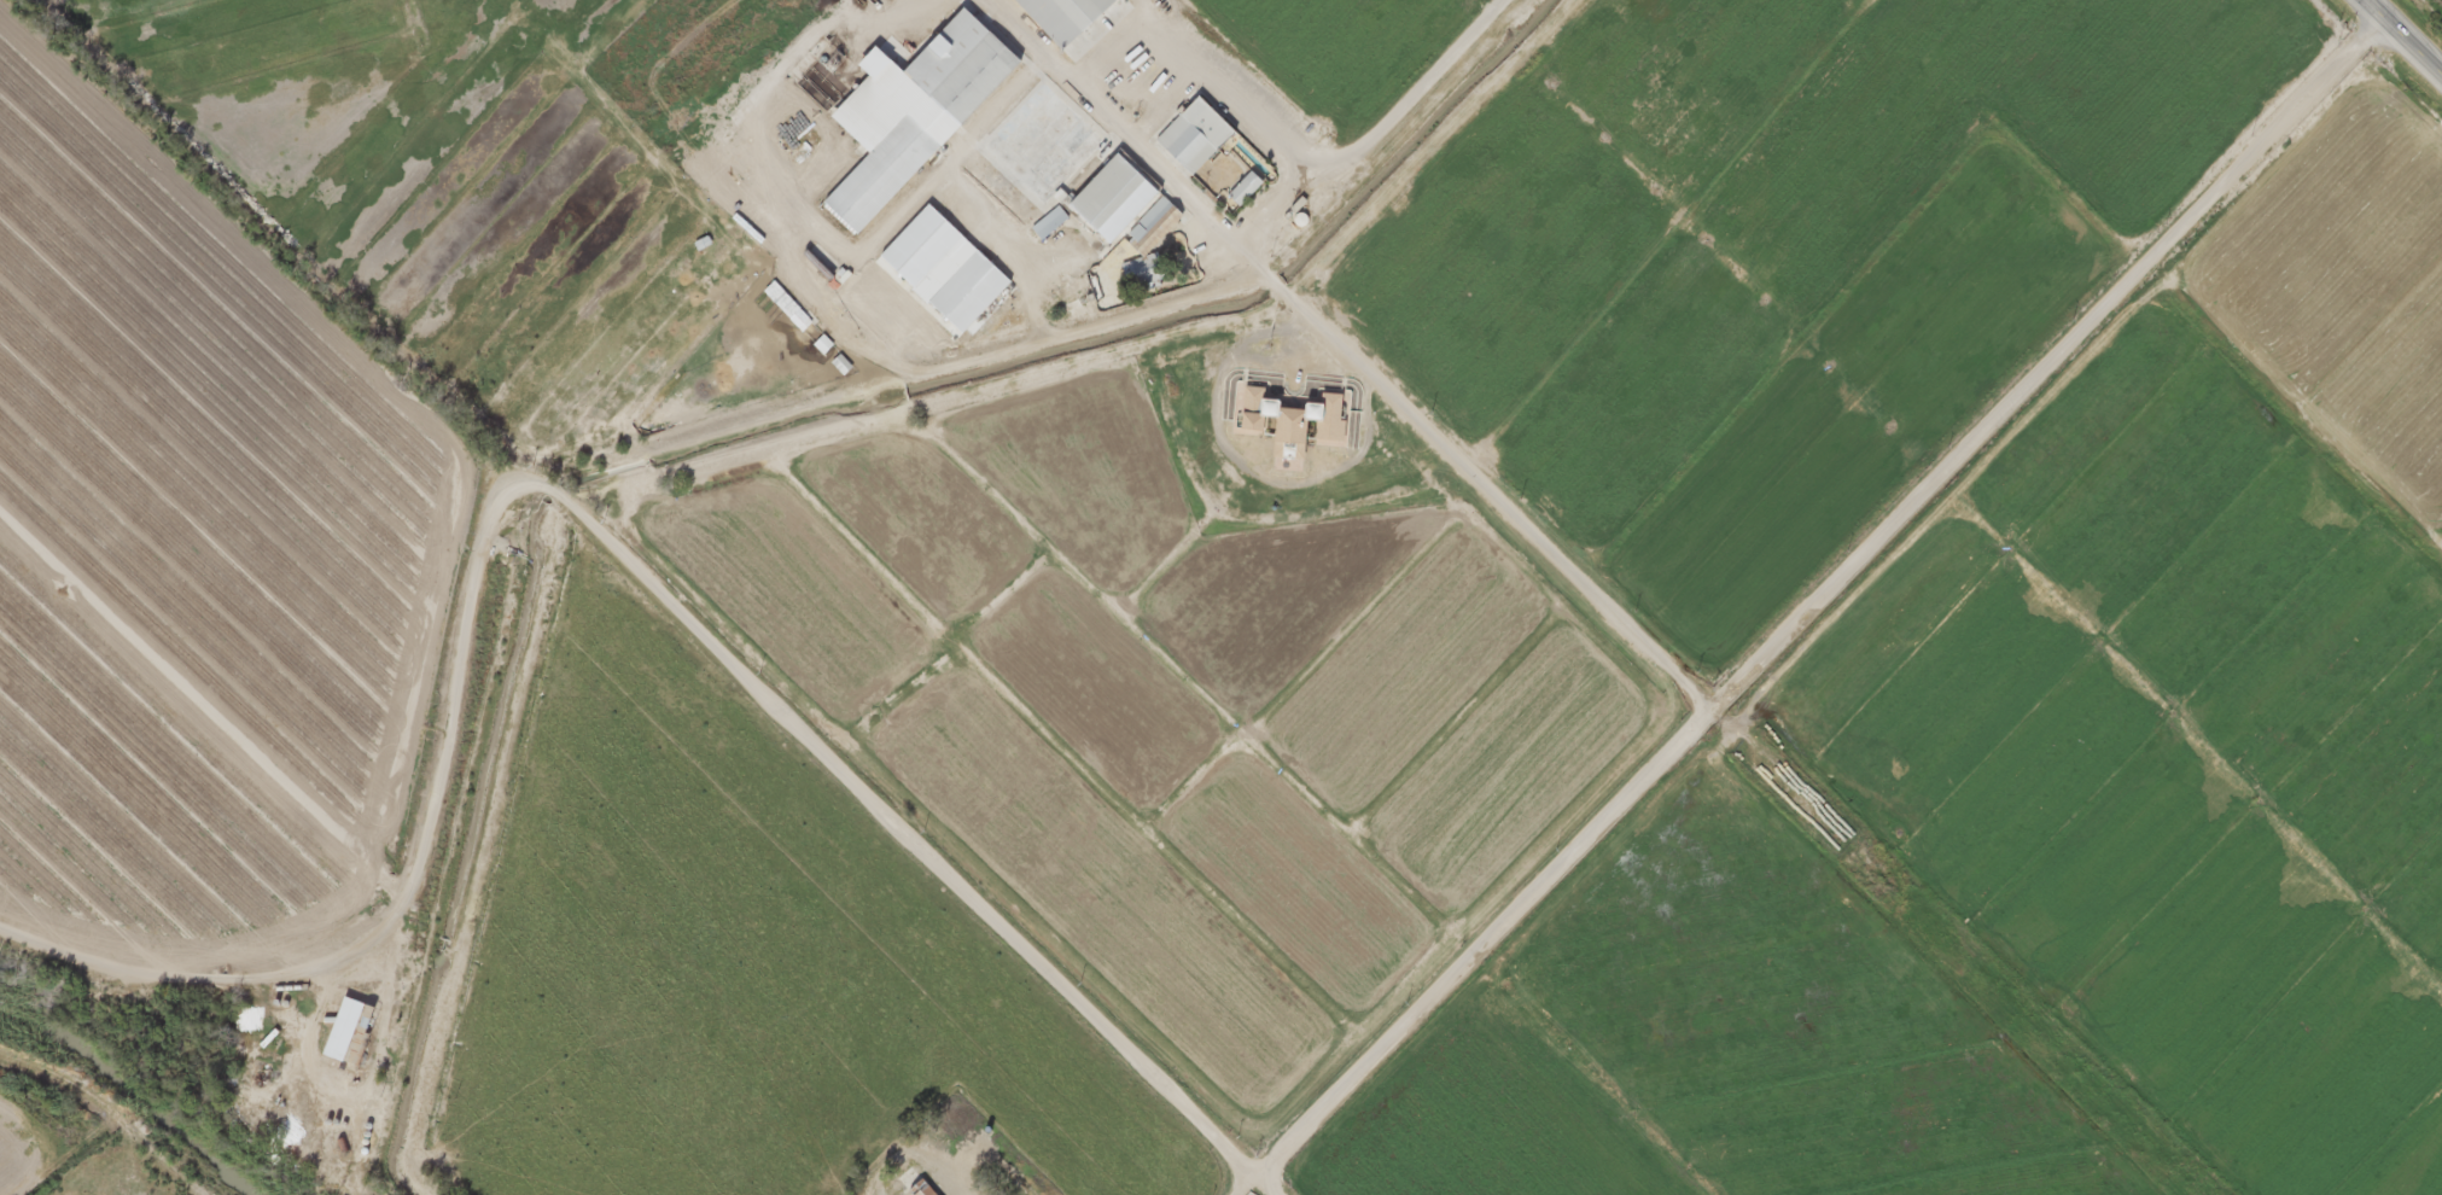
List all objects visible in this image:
building: (1057, 17)
road: (2403, 36)
building: (954, 69)
road: (1375, 132)
building: (1175, 144)
building: (1036, 147)
building: (875, 175)
building: (1237, 191)
building: (1106, 200)
building: (1043, 223)
building: (914, 249)
building: (962, 293)
building: (1288, 427)
road: (1470, 477)
road: (581, 531)
road: (1818, 591)
building: (244, 1020)
building: (337, 1031)
road: (115, 1112)
road: (75, 1156)
road: (1241, 1182)
road: (1266, 1182)
building: (914, 1190)

